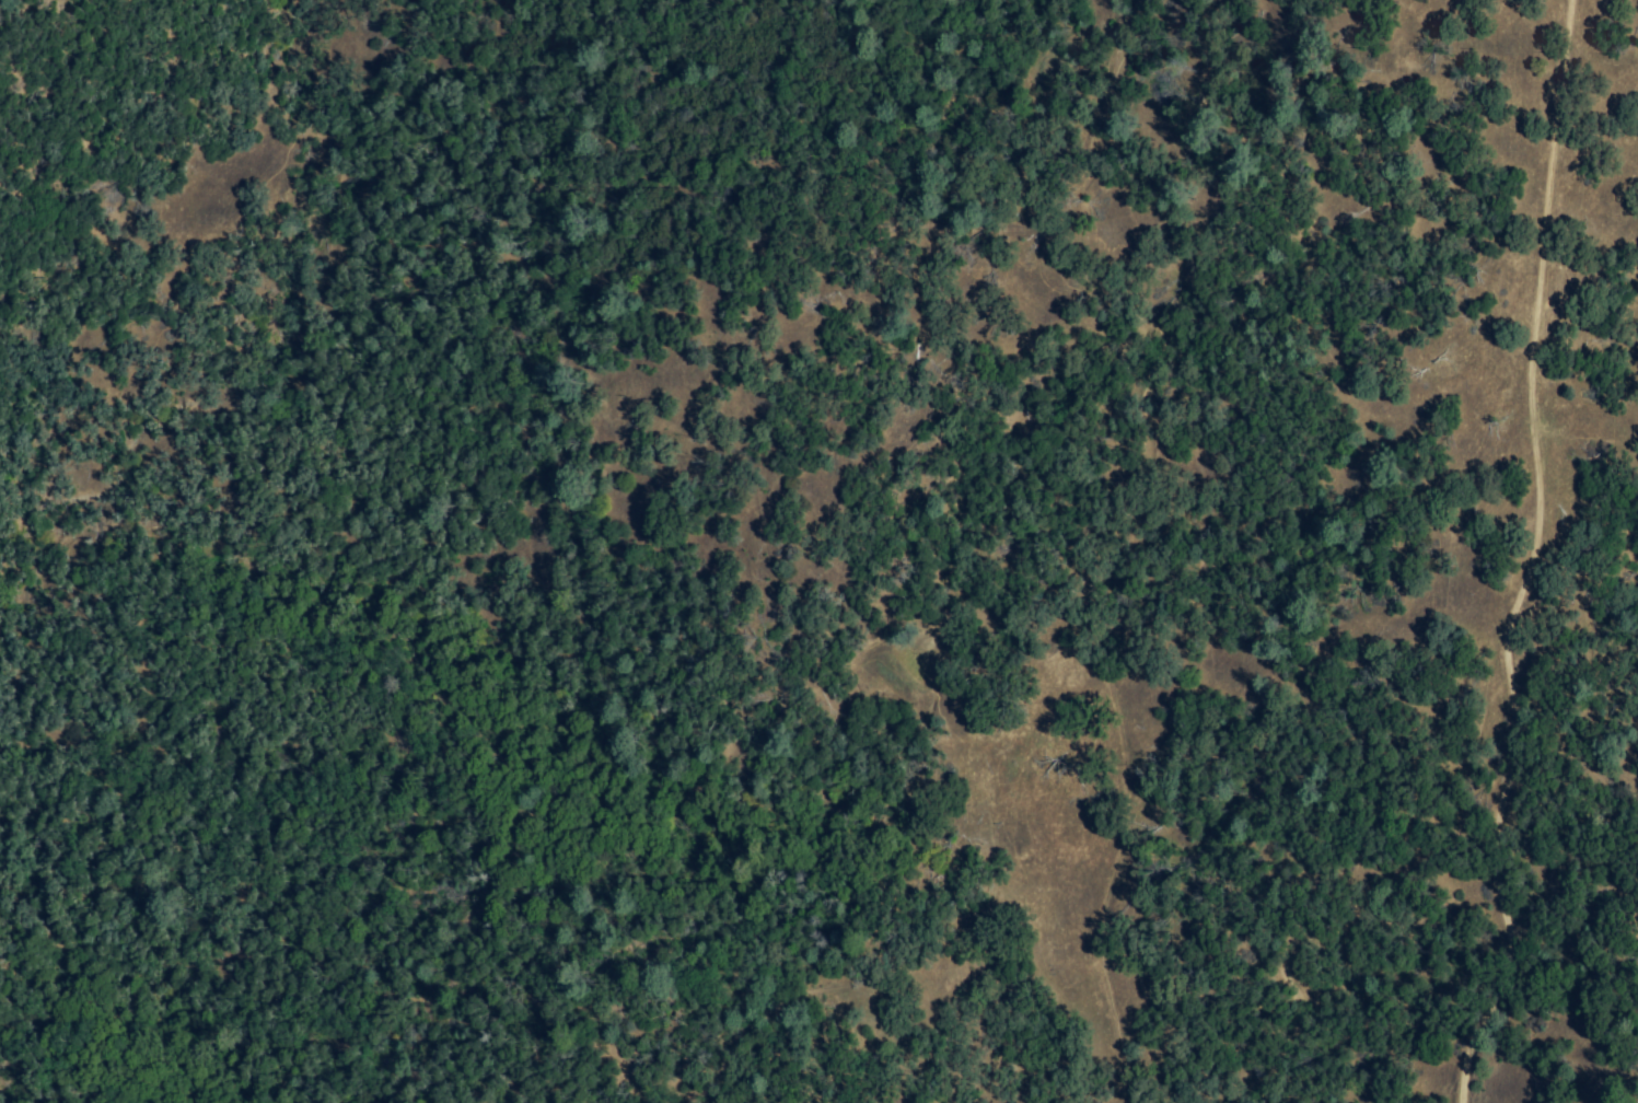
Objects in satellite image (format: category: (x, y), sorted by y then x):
road: (1527, 558)

